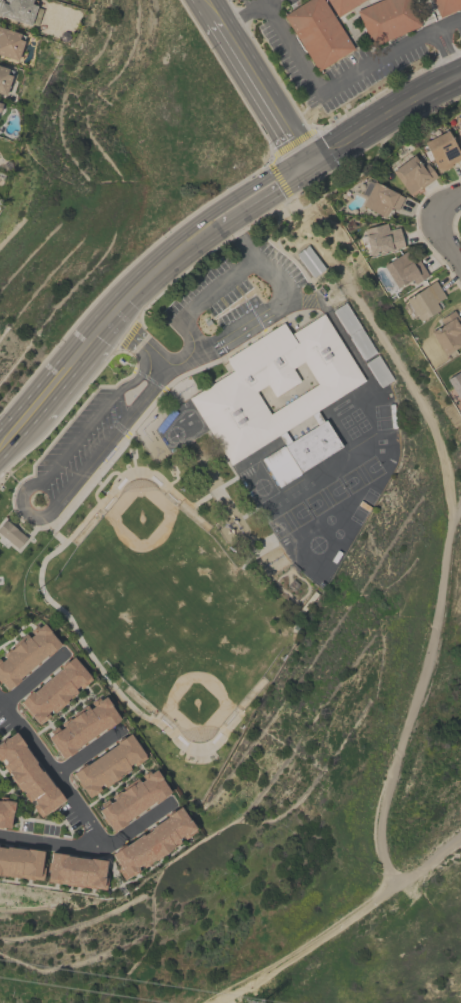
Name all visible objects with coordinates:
building: (342, 5)
building: (446, 6)
road: (214, 8)
building: (18, 10)
road: (243, 11)
building: (386, 19)
road: (435, 29)
building: (317, 32)
building: (9, 44)
road: (343, 78)
building: (4, 79)
road: (446, 82)
road: (262, 89)
building: (0, 103)
building: (0, 104)
road: (369, 126)
building: (458, 126)
building: (459, 146)
building: (440, 151)
traffic signals: (306, 164)
building: (412, 174)
road: (256, 182)
road: (271, 198)
building: (378, 198)
road: (196, 225)
road: (438, 228)
road: (211, 239)
building: (380, 239)
road: (242, 243)
building: (309, 260)
building: (403, 270)
road: (273, 274)
road: (145, 280)
building: (424, 300)
road: (199, 301)
building: (353, 330)
building: (447, 332)
road: (138, 344)
road: (68, 365)
building: (378, 370)
building: (455, 384)
building: (227, 404)
road: (15, 425)
road: (79, 477)
road: (455, 508)
building: (10, 534)
road: (443, 565)
park: (166, 611)
building: (25, 652)
road: (33, 677)
building: (52, 689)
building: (80, 725)
road: (88, 751)
building: (107, 763)
road: (54, 771)
building: (26, 774)
building: (131, 798)
building: (4, 810)
building: (151, 842)
road: (94, 845)
building: (20, 861)
building: (74, 870)
road: (336, 926)

